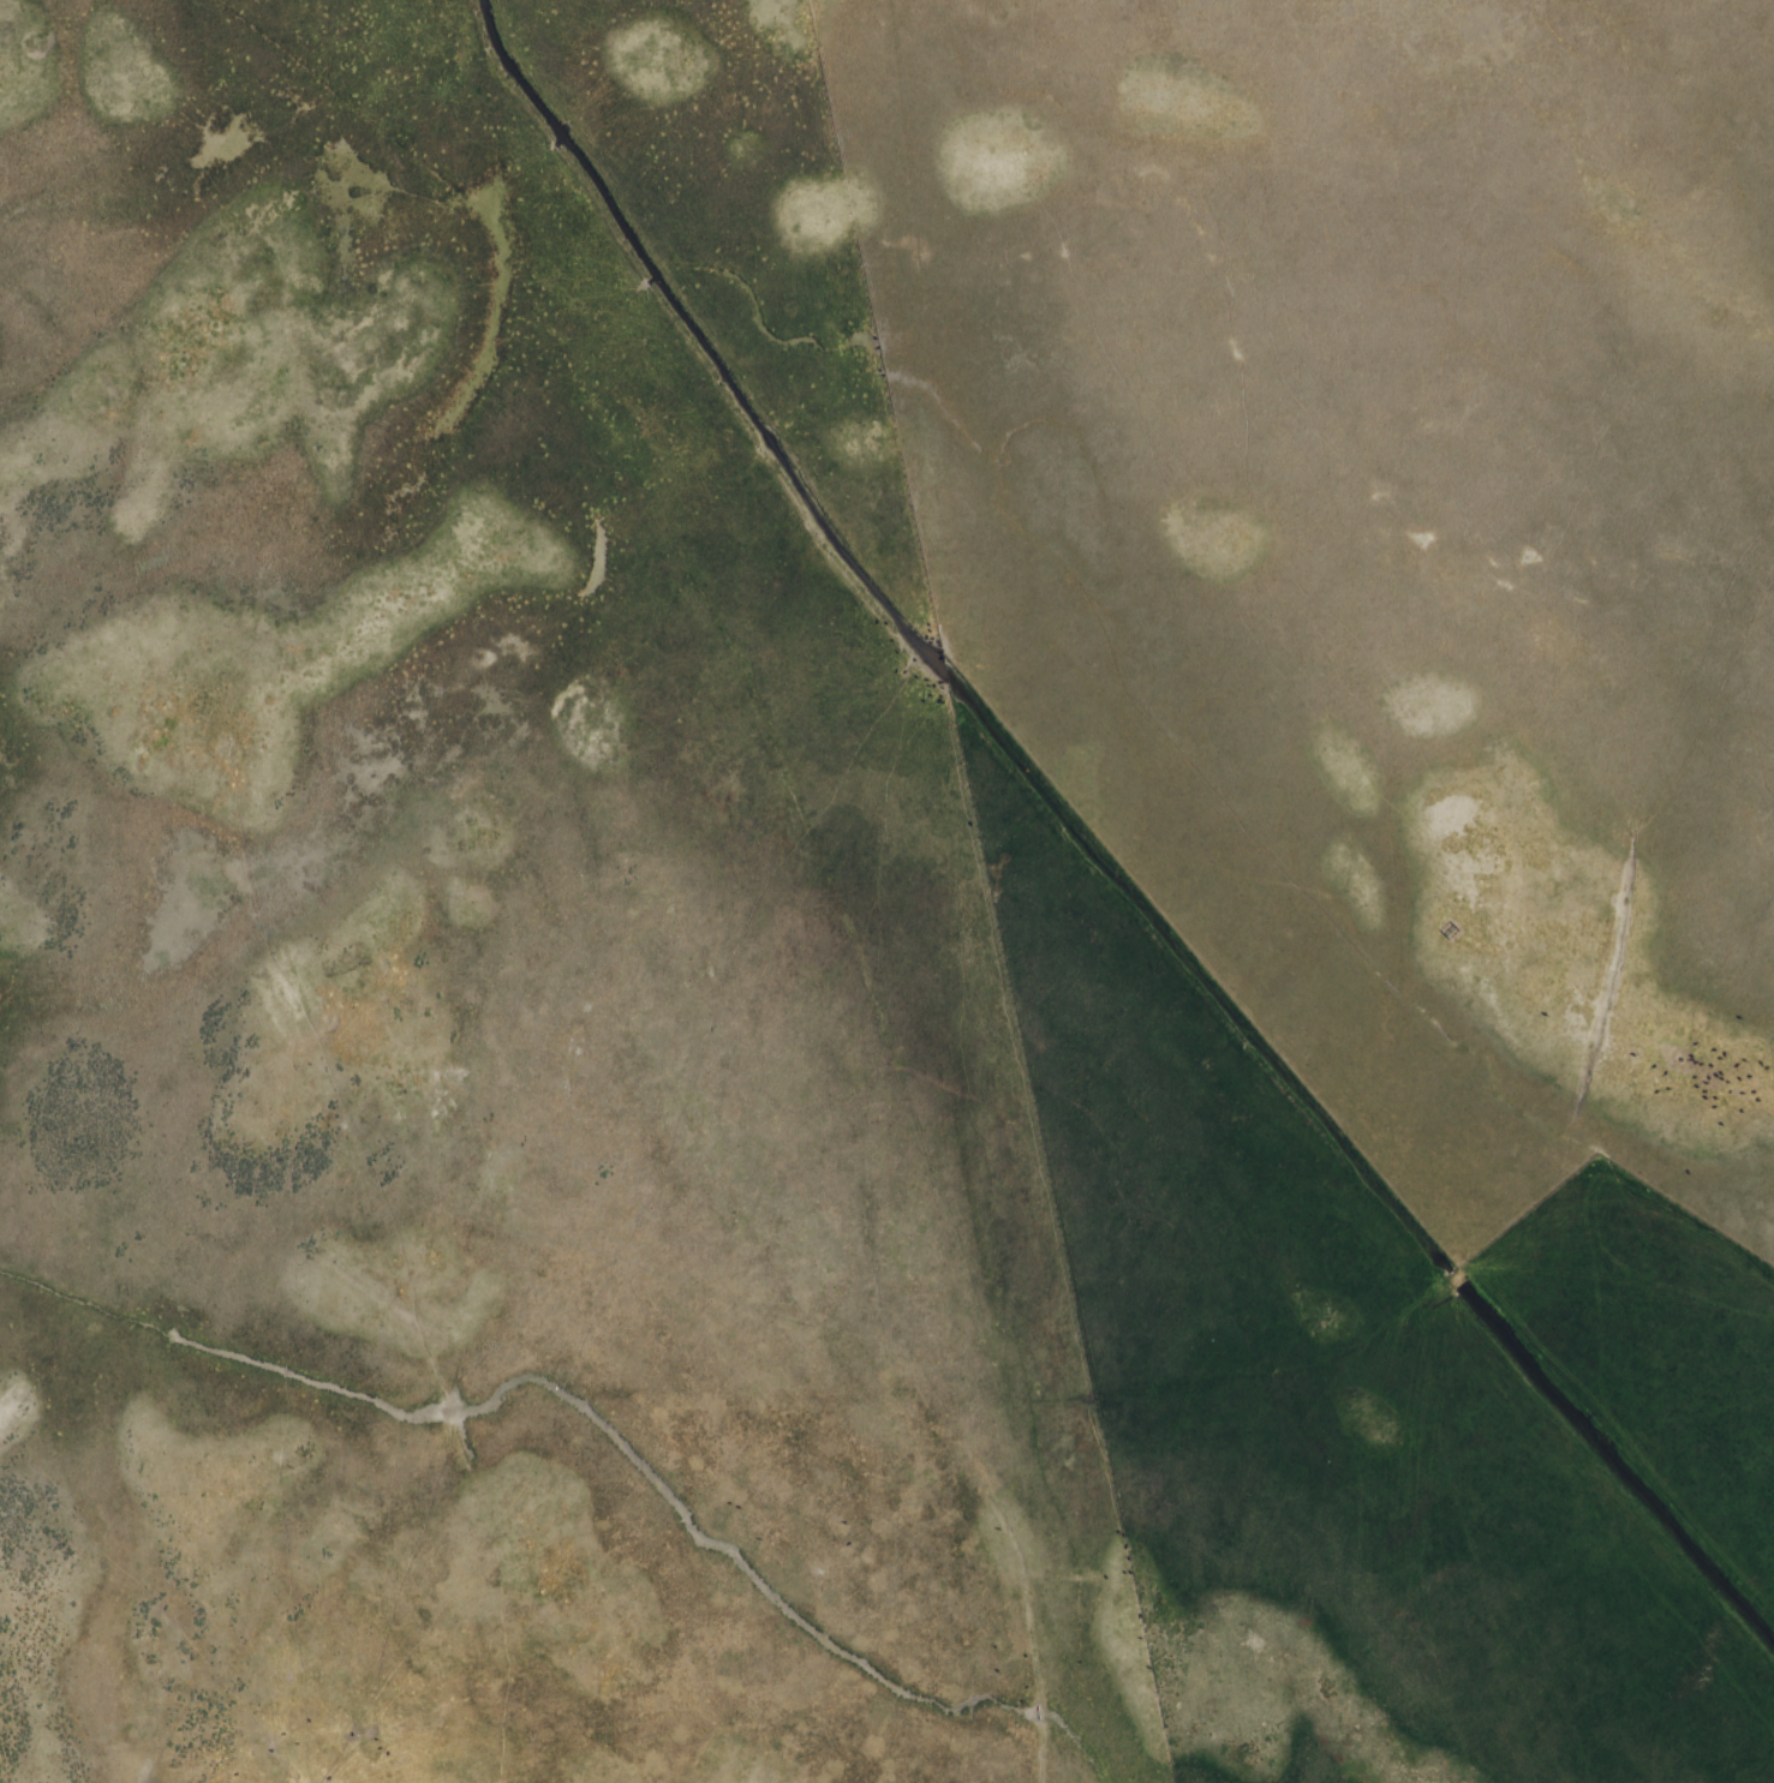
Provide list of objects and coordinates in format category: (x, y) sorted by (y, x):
crop: (886, 891)

